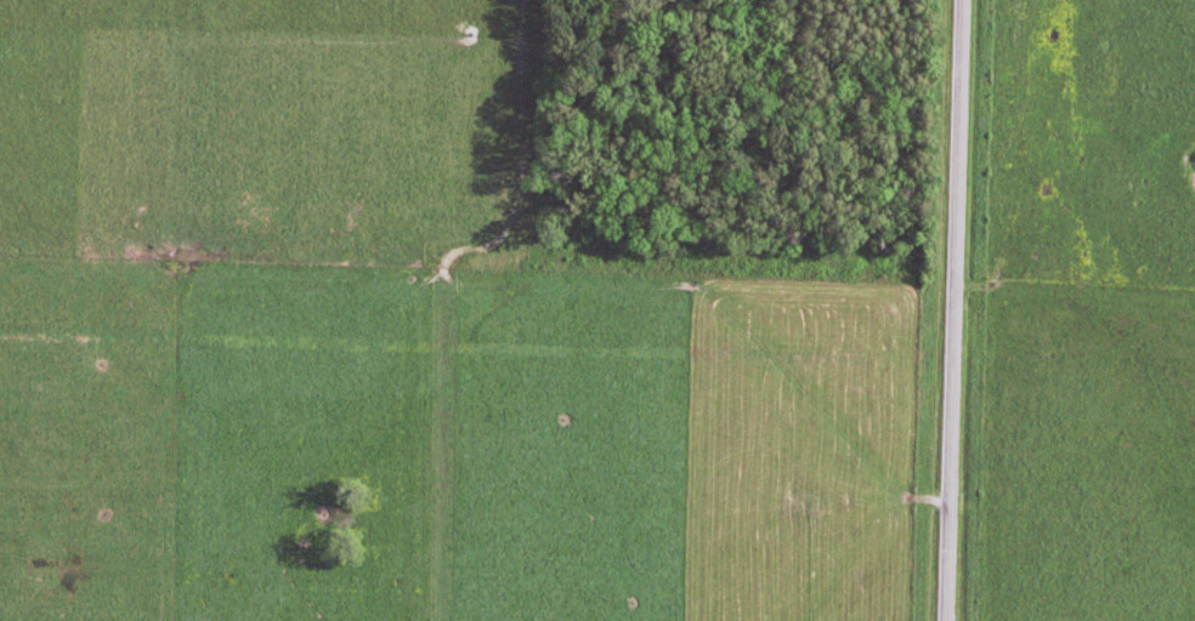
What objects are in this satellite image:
road: (951, 309)
road: (889, 449)

